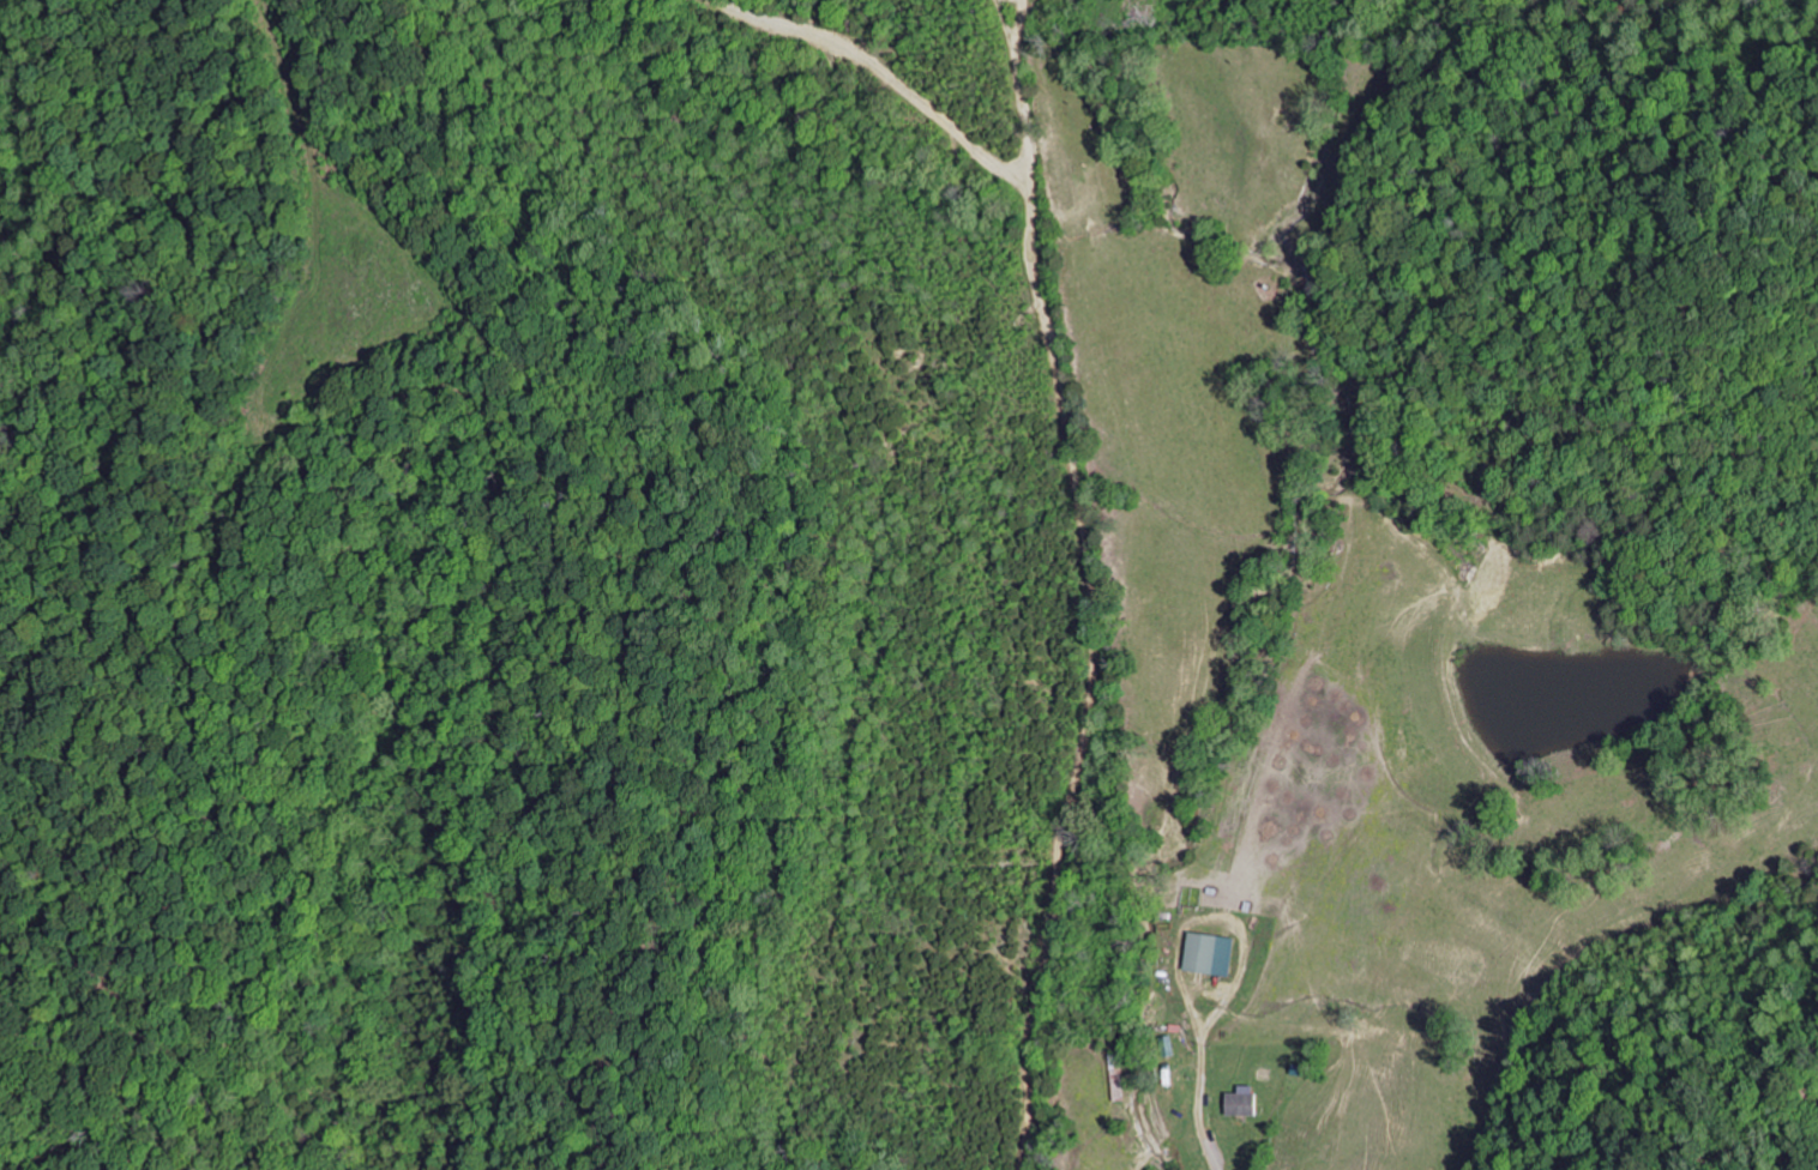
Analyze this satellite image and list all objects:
building: (1210, 953)
building: (1241, 1100)
road: (1214, 1159)

